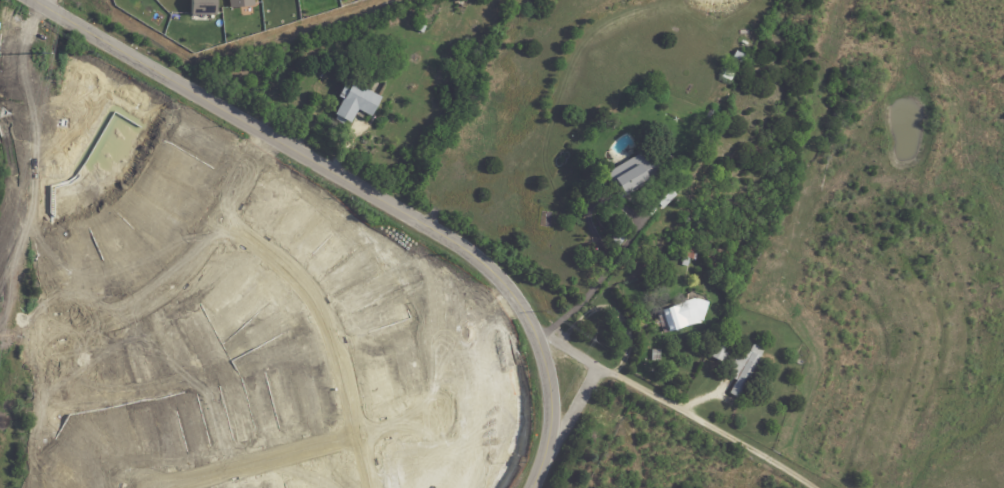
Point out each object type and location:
building: (239, 3)
building: (460, 6)
building: (201, 7)
building: (421, 29)
building: (737, 58)
building: (726, 77)
building: (352, 104)
building: (632, 175)
road: (365, 192)
building: (661, 197)
building: (680, 207)
building: (687, 254)
road: (188, 259)
road: (596, 284)
building: (679, 317)
road: (334, 327)
road: (569, 350)
building: (654, 356)
building: (738, 367)
road: (672, 405)
road: (291, 446)
road: (148, 486)

